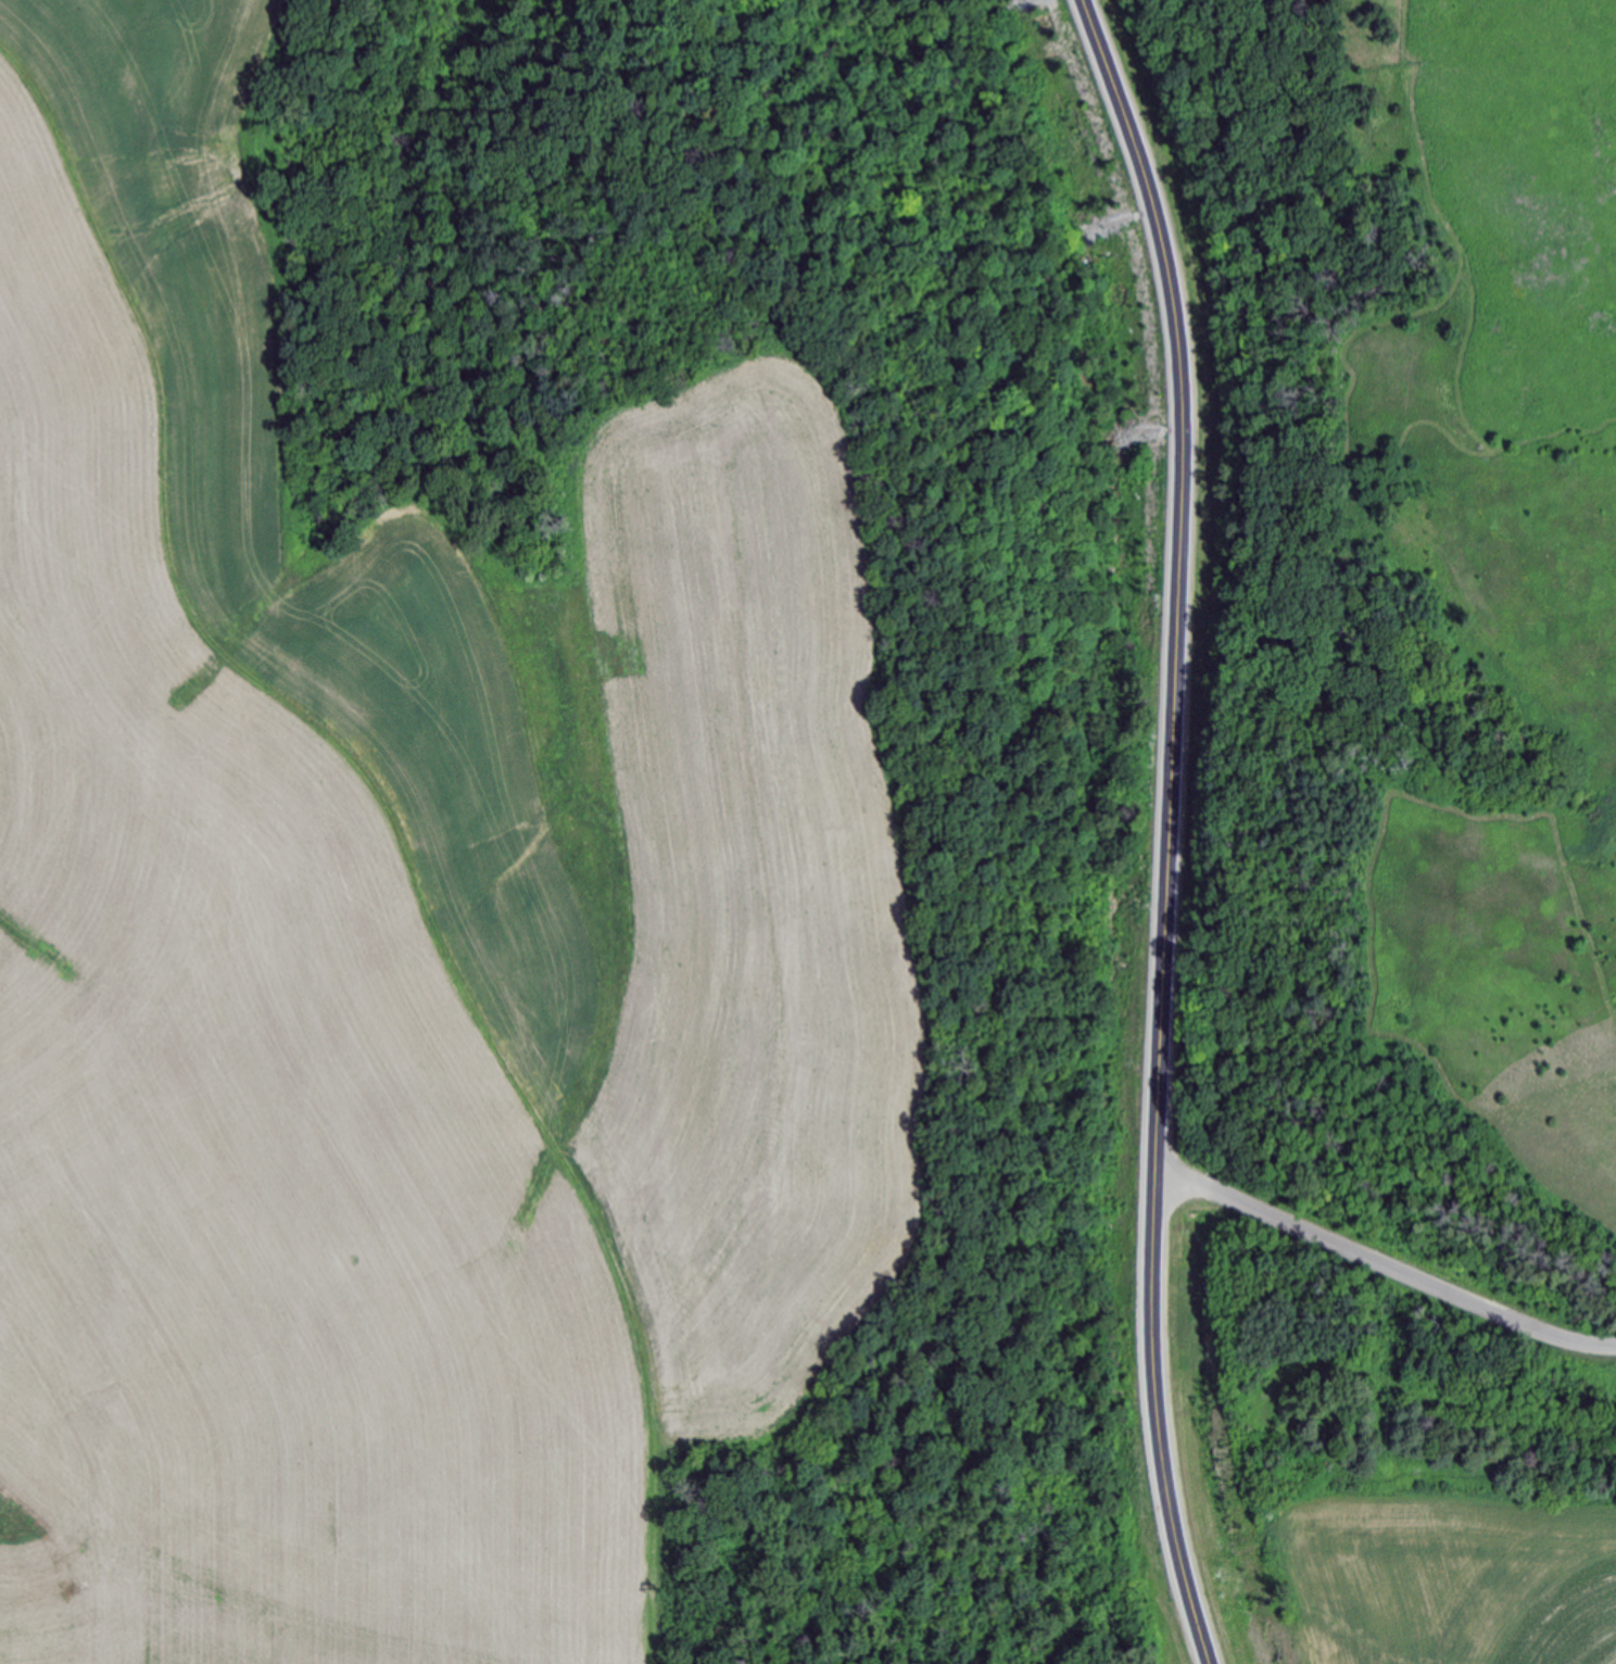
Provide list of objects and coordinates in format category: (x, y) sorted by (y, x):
road: (1170, 828)
road: (1384, 1264)

